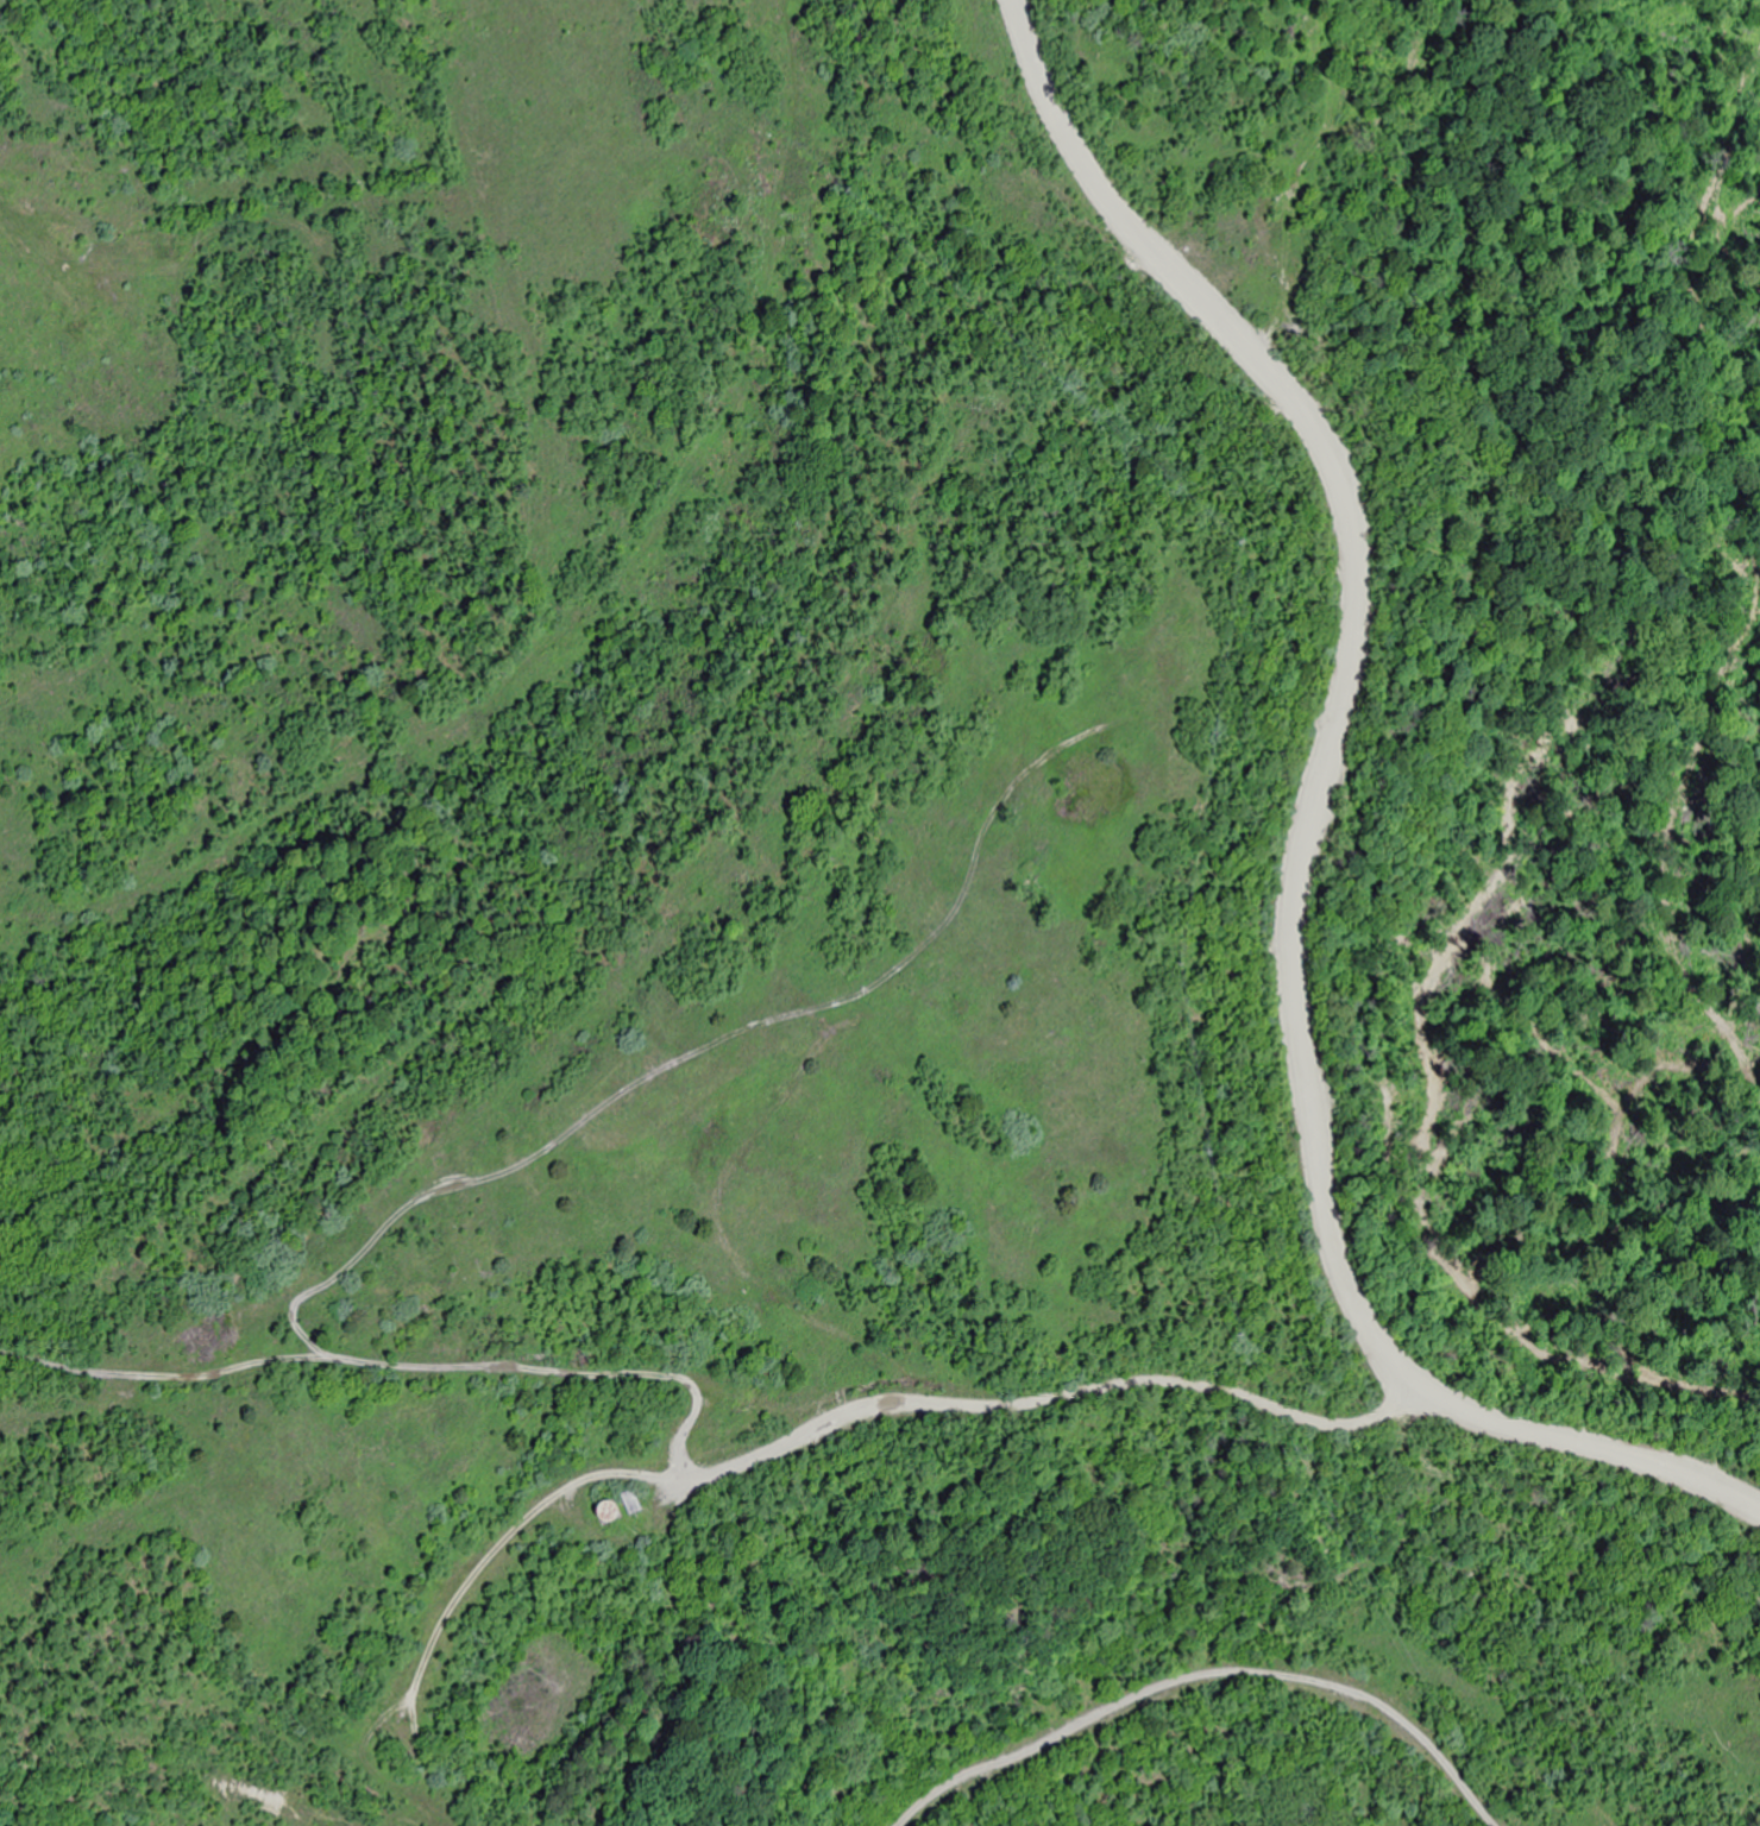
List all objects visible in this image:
building: (621, 1507)

